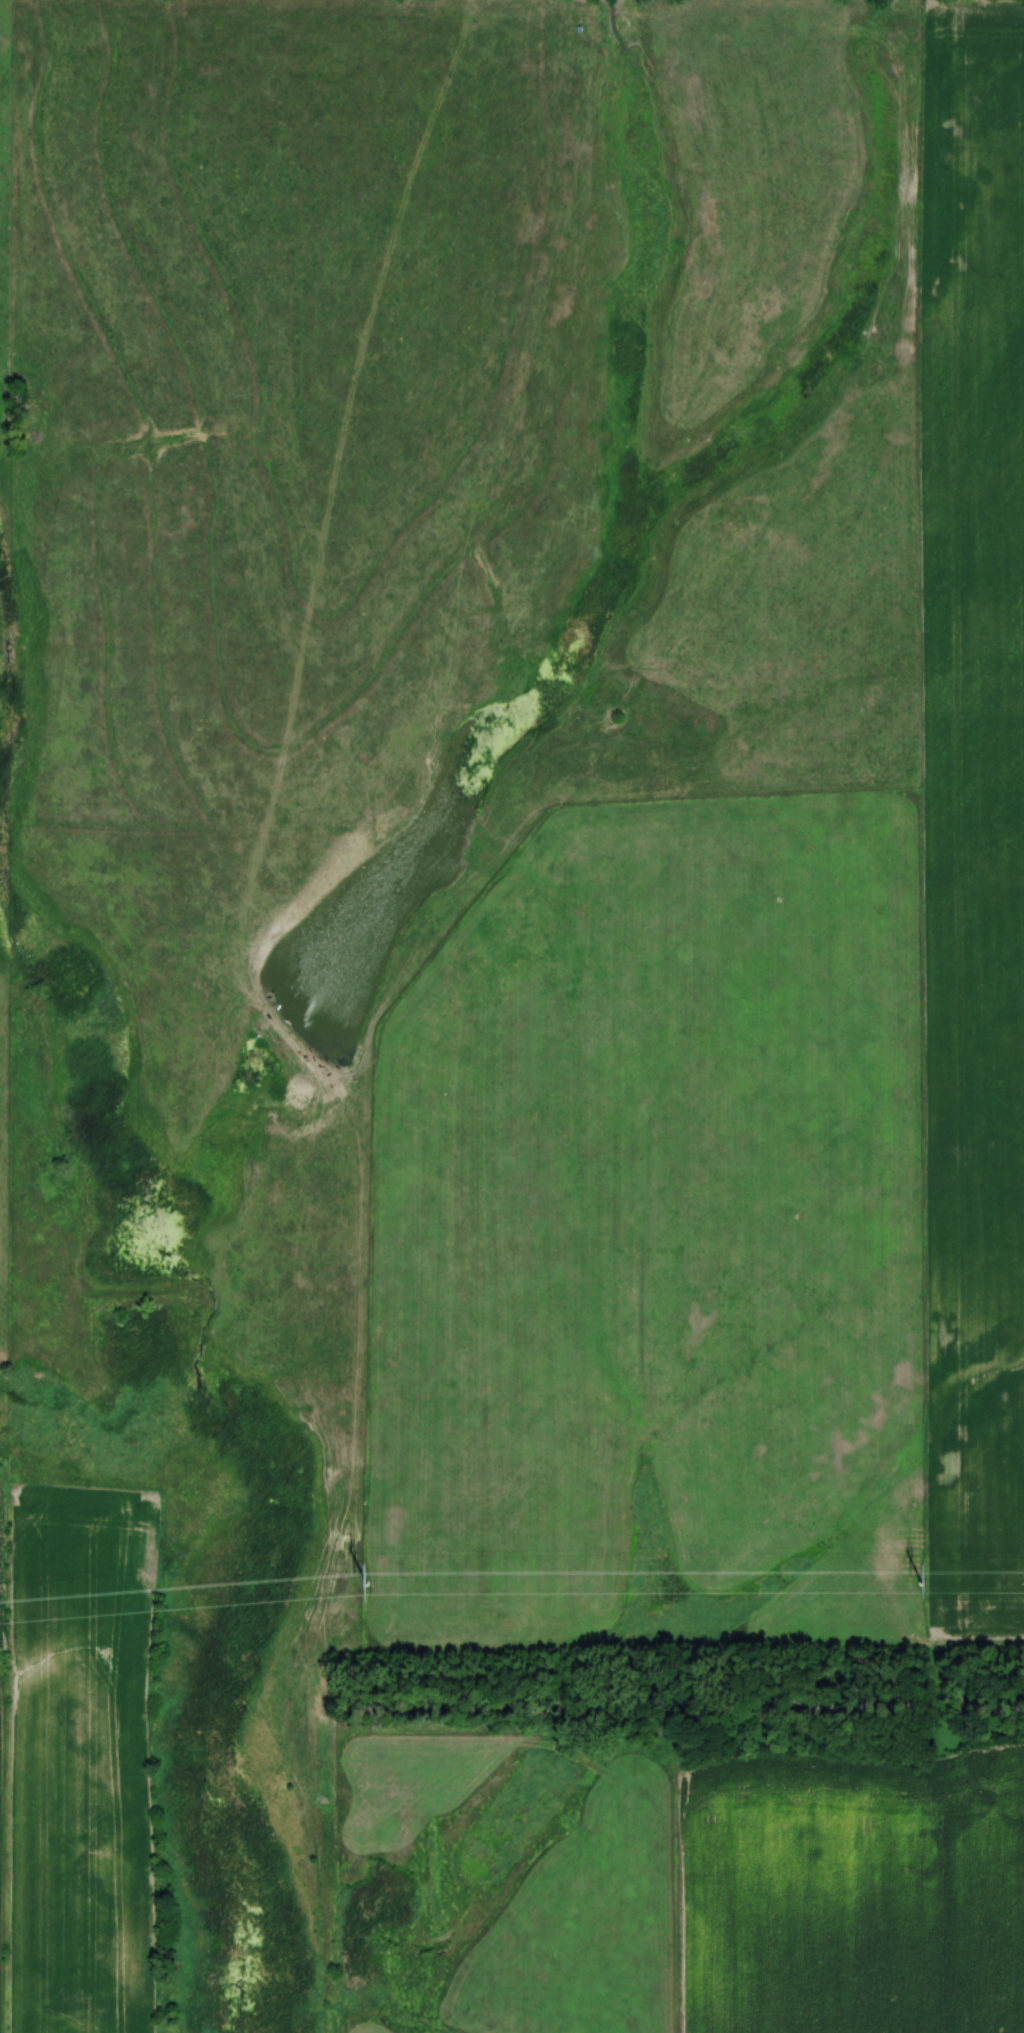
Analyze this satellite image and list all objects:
power tower: (919, 1582)
power tower: (365, 1583)

